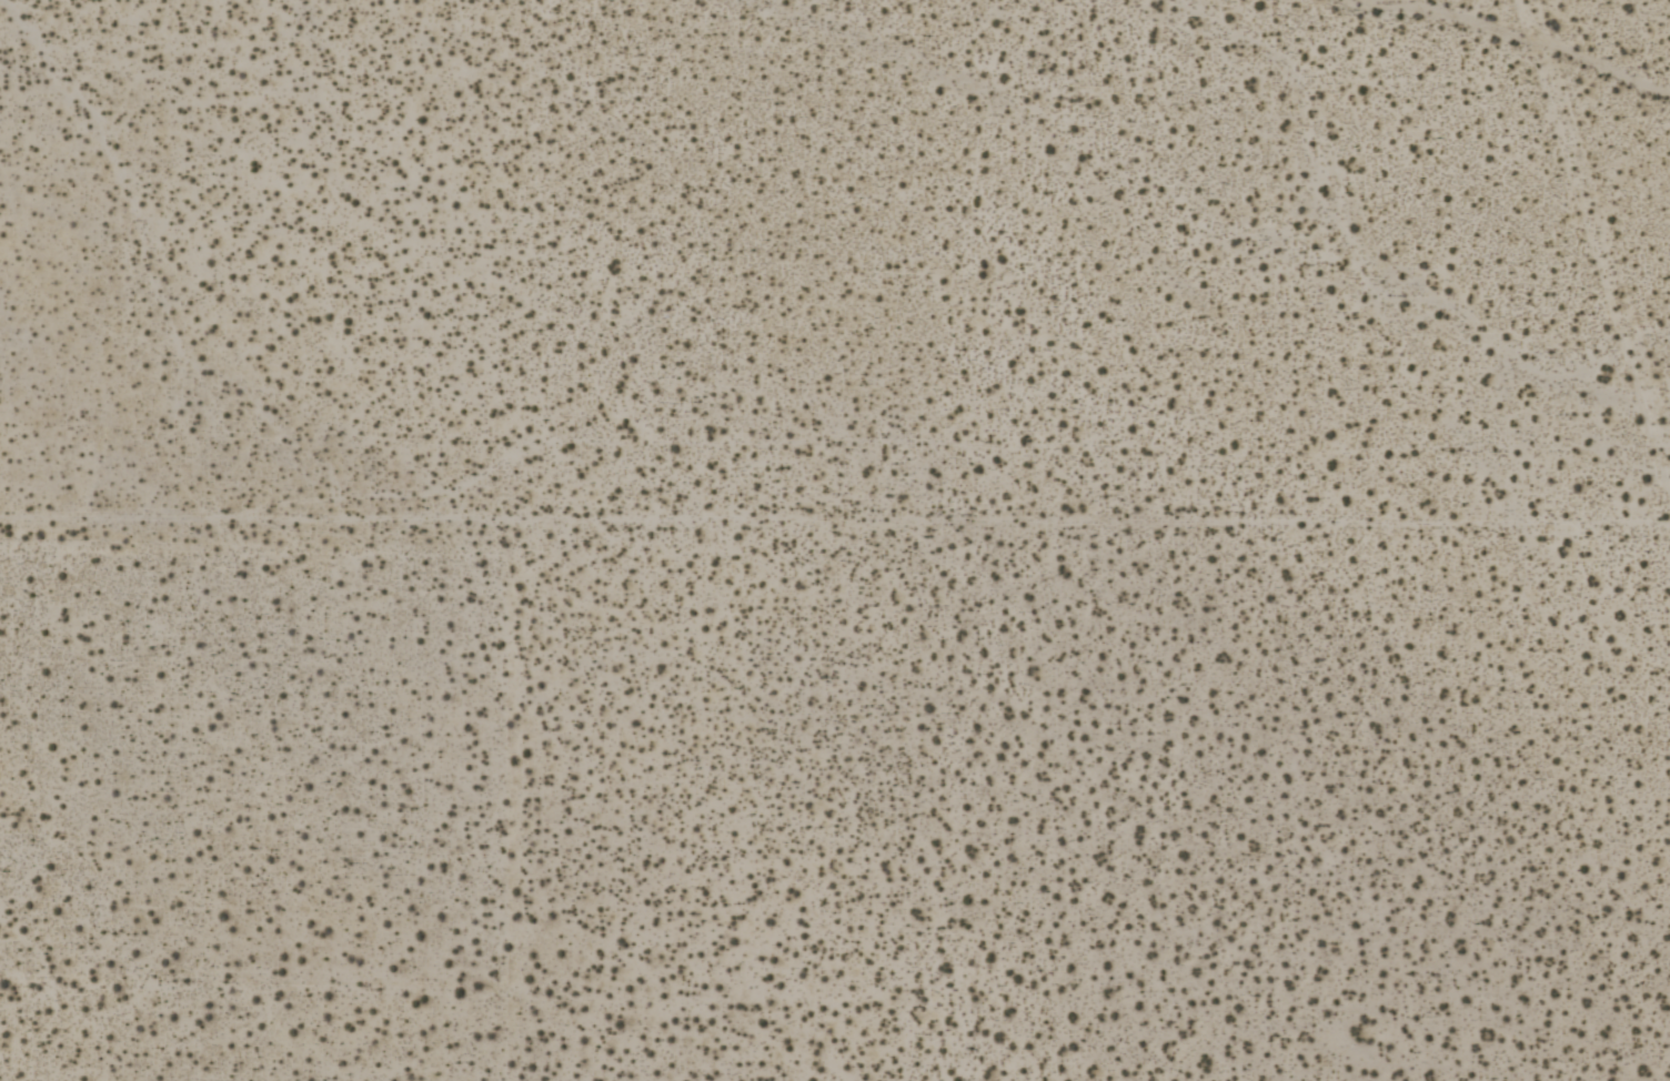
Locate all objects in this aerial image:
road: (1578, 242)

